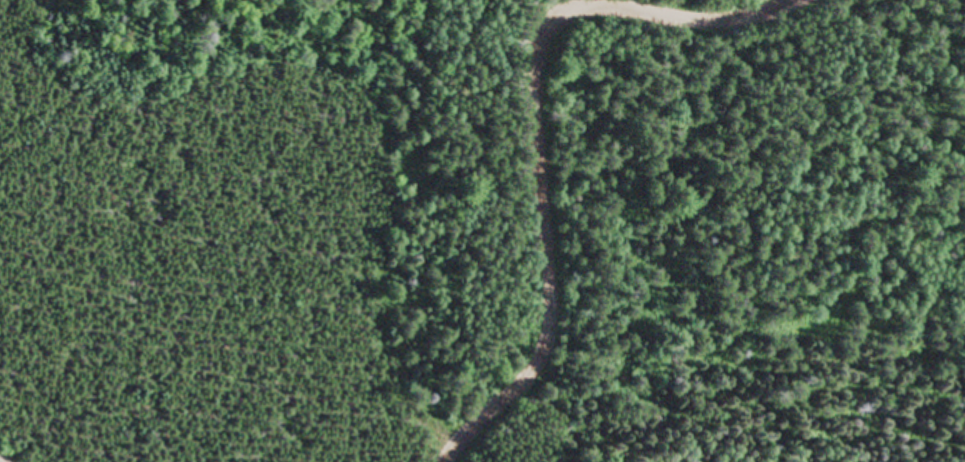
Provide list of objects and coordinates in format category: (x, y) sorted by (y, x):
road: (545, 140)
road: (14, 455)

